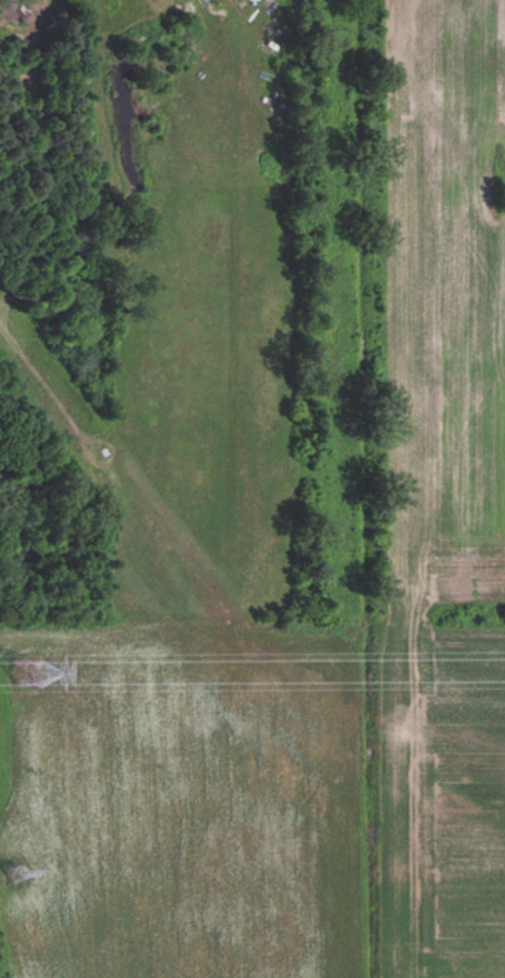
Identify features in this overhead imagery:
power tower: (32, 675)
power tower: (15, 871)

